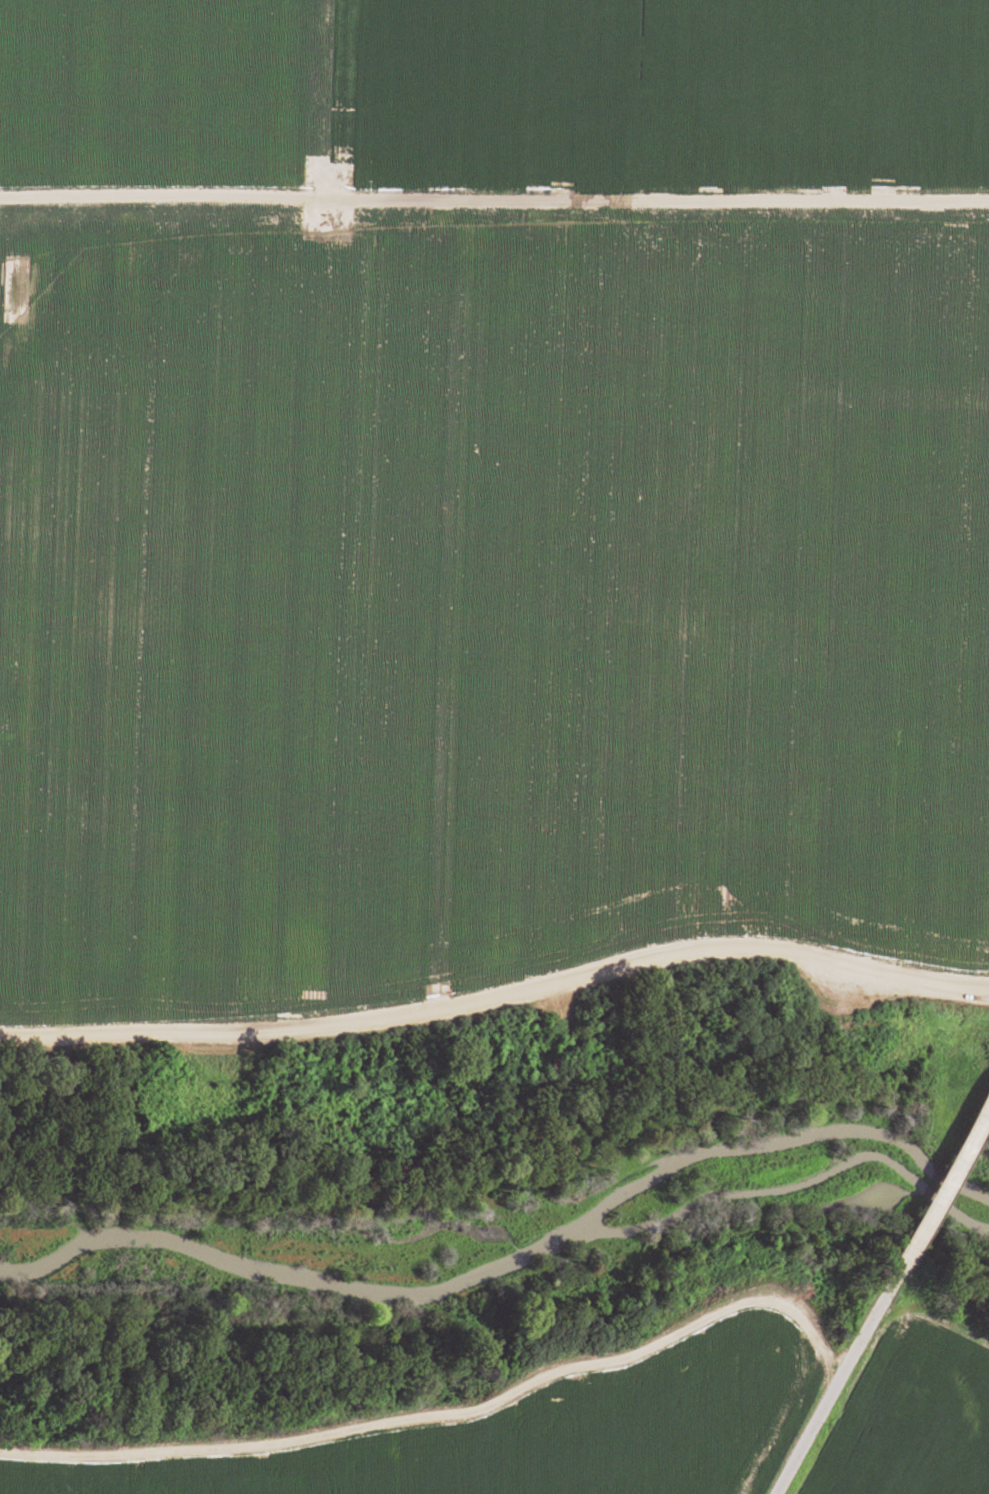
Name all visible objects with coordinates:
road: (494, 200)
road: (498, 1000)
road: (940, 1187)
river: (511, 1260)
road: (833, 1386)

